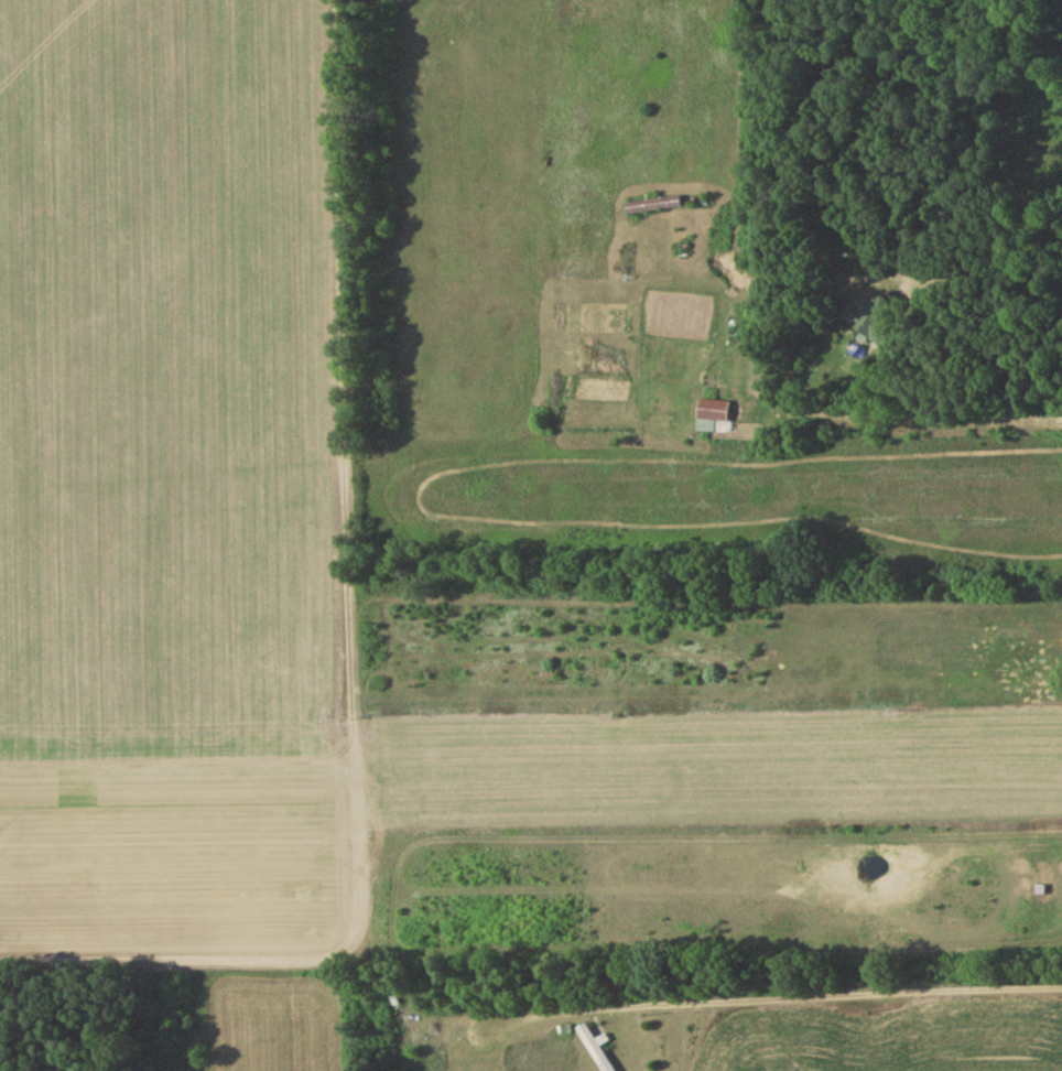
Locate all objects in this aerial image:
building: (653, 208)
building: (875, 324)
road: (989, 350)
building: (713, 409)
road: (915, 421)
road: (839, 994)
building: (595, 1049)

